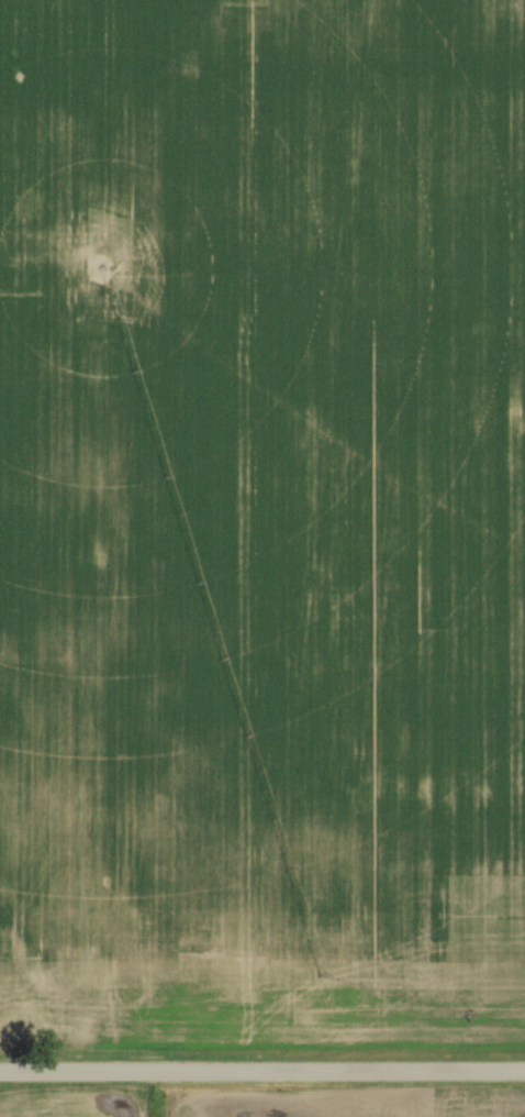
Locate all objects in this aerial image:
road: (262, 1072)

